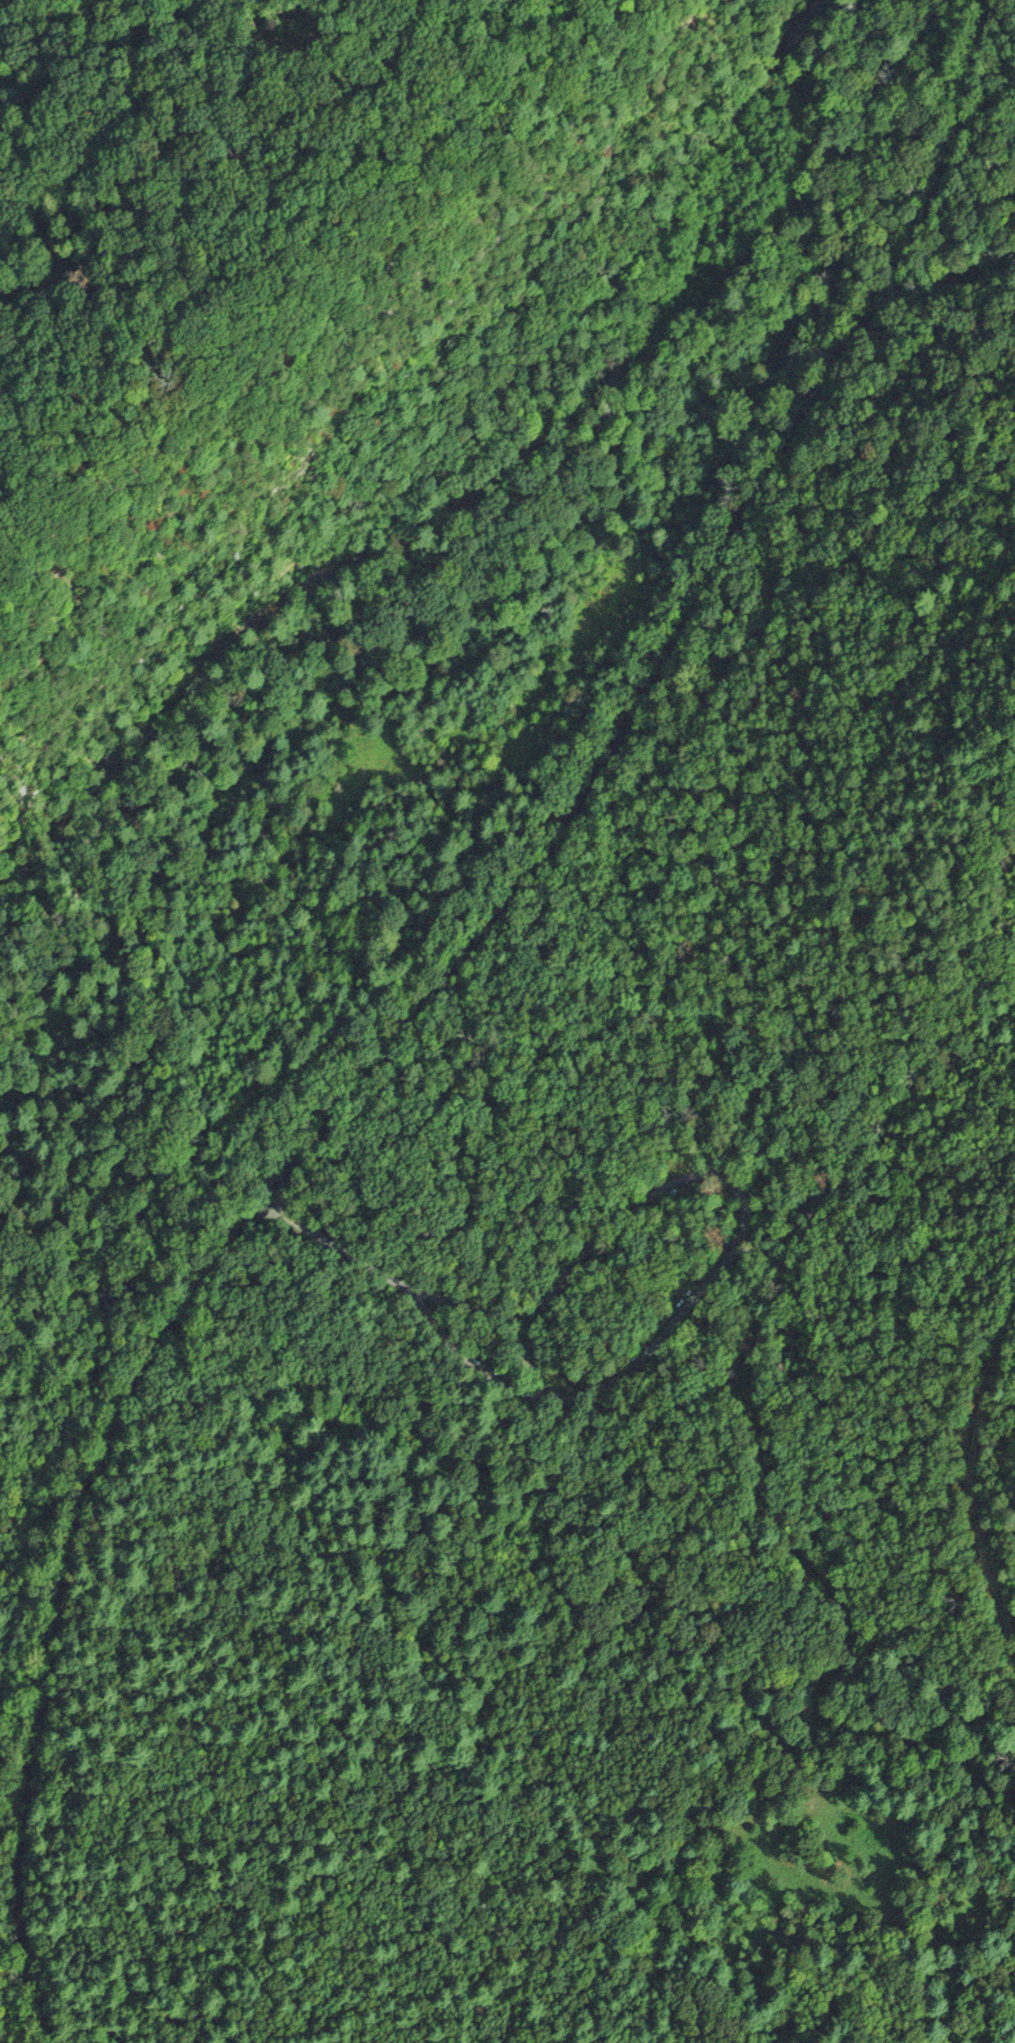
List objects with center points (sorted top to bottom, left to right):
road: (333, 908)
road: (89, 971)
road: (427, 1002)
road: (188, 1057)
road: (574, 1265)
road: (415, 1292)
parking lot: (604, 1303)
road: (685, 1305)
road: (962, 1477)
road: (820, 1577)
road: (1009, 1797)
road: (1013, 1803)

